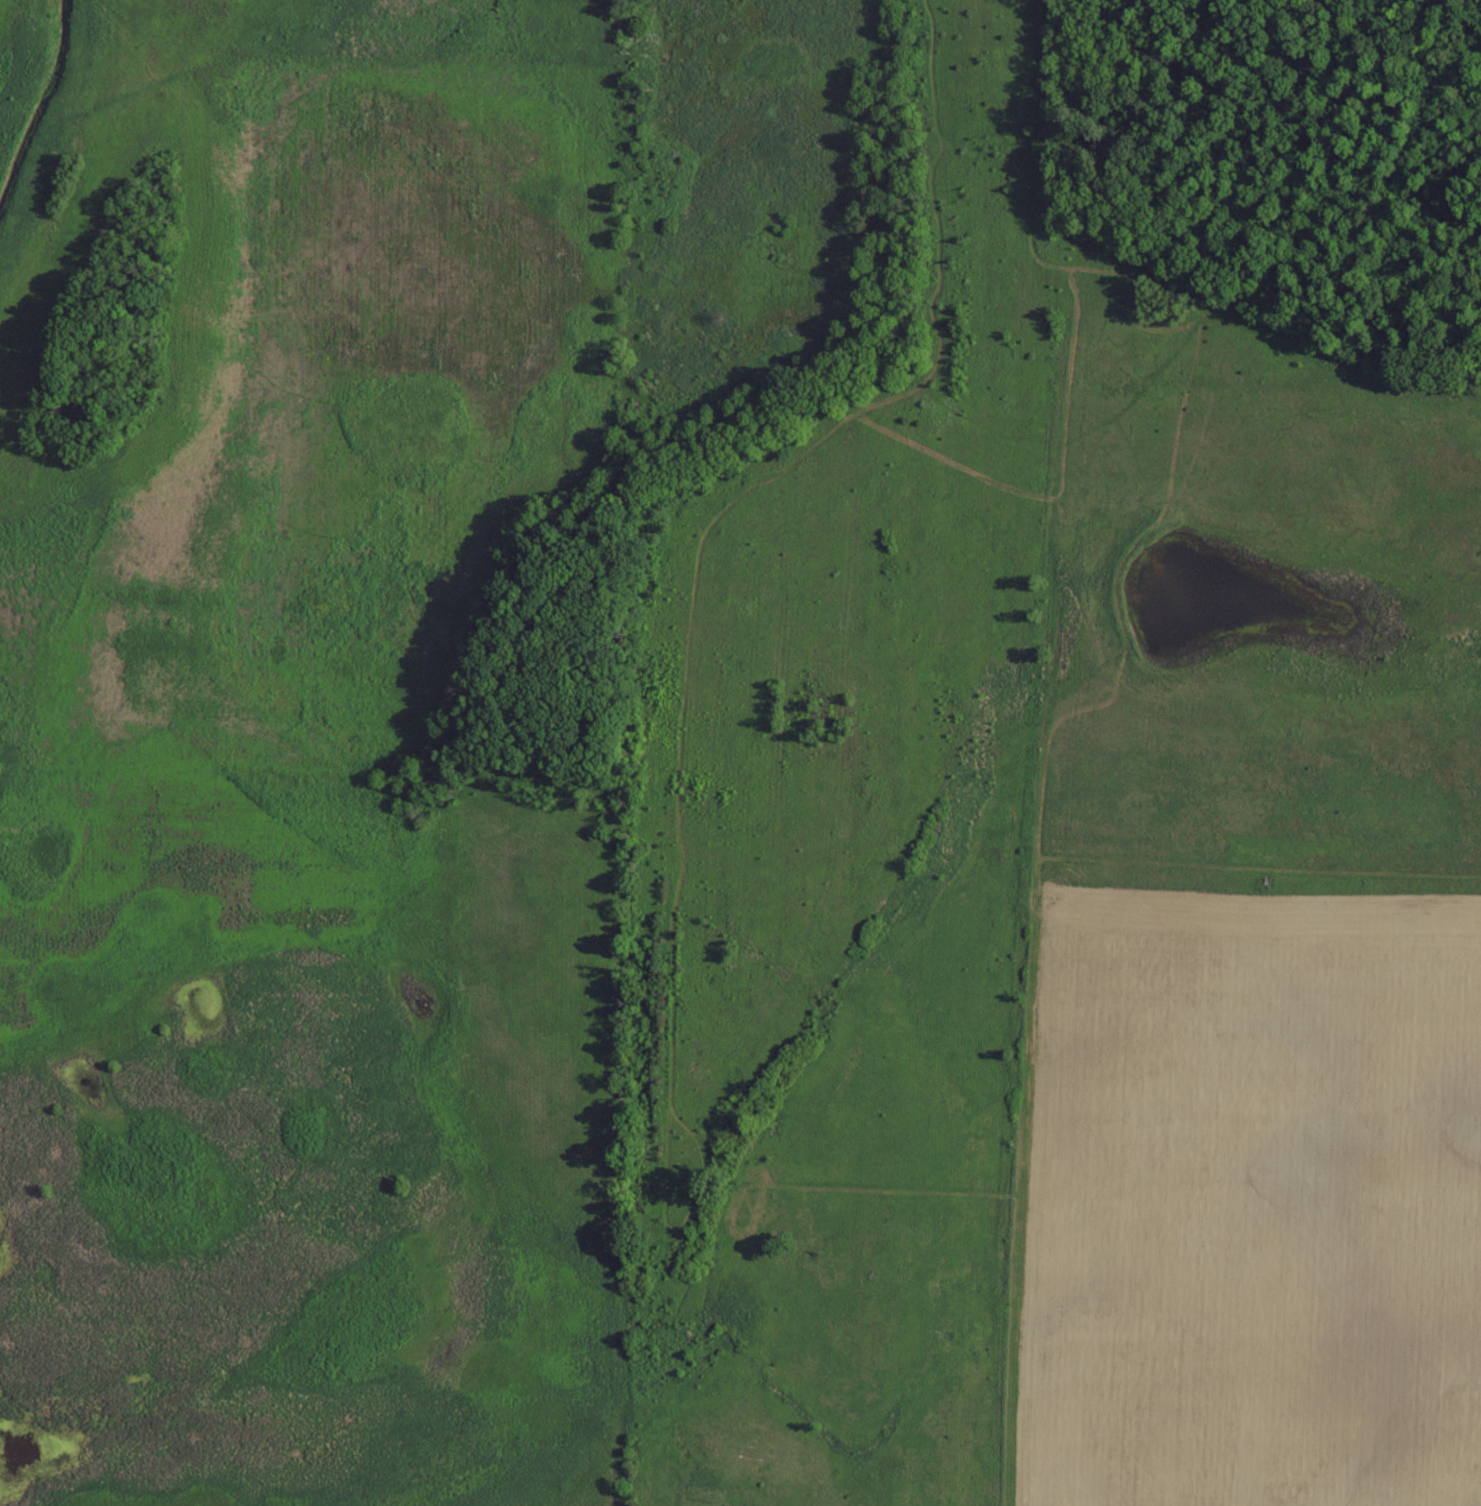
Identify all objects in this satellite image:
crop: (1259, 1206)

